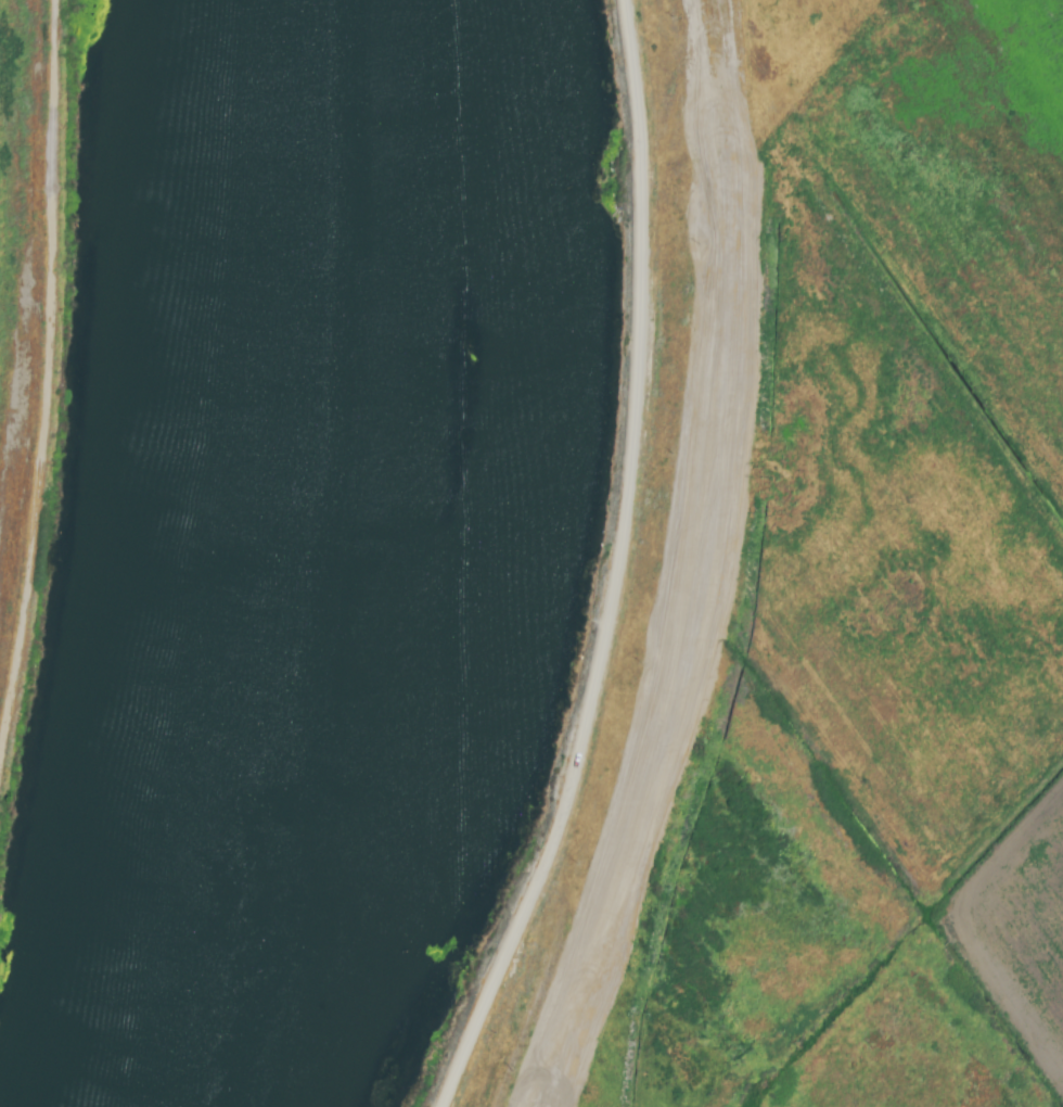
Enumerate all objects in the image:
crop: (24, 362)
river: (254, 557)
road: (620, 568)
crop: (867, 607)

